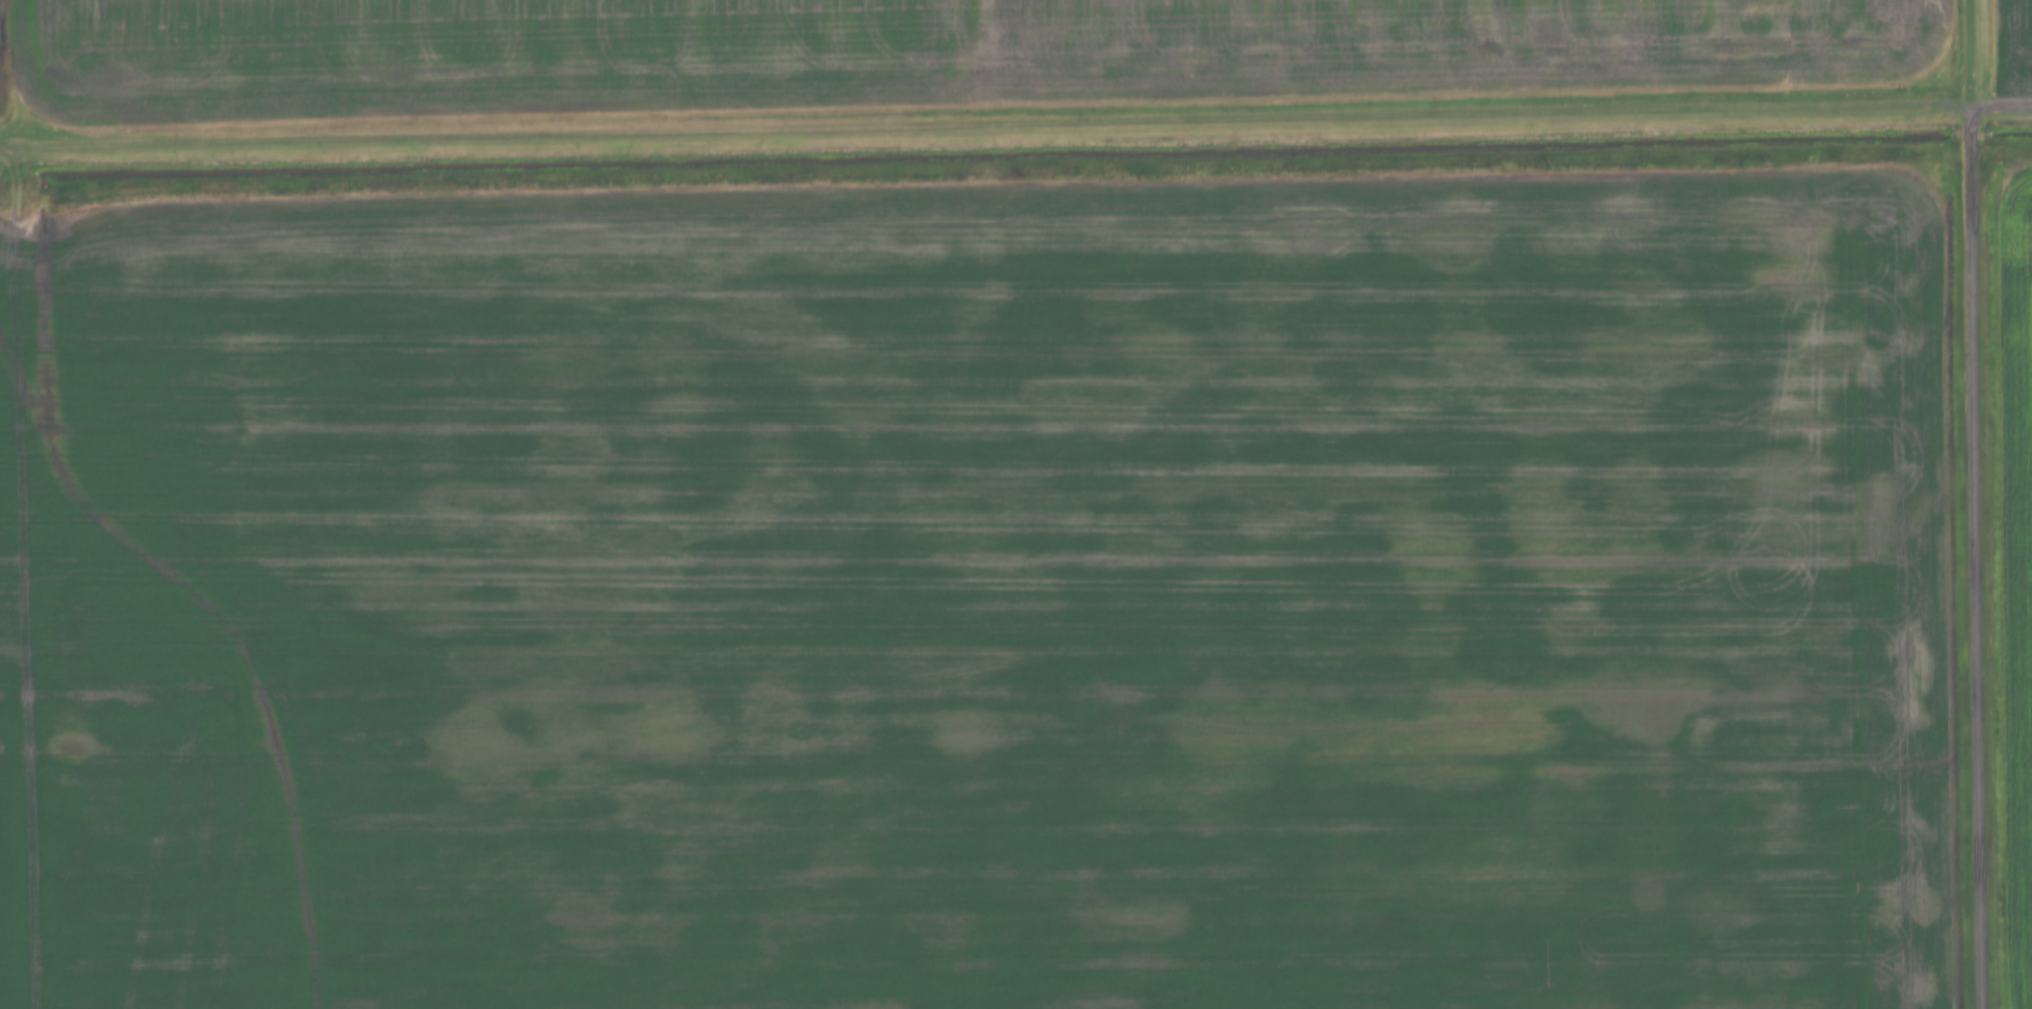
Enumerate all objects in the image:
road: (2001, 108)
road: (985, 128)
road: (1975, 504)

